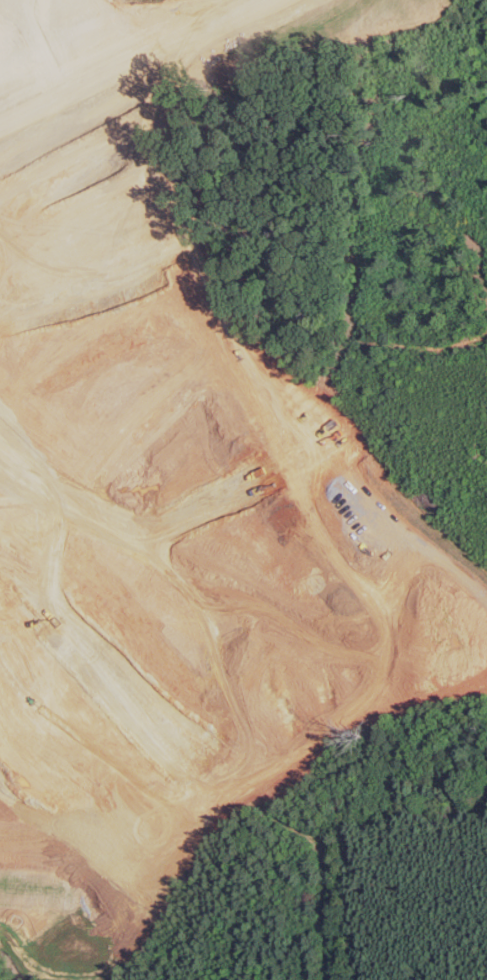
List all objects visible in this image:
road: (128, 63)
road: (106, 196)
road: (375, 259)
road: (243, 371)
road: (261, 591)
road: (81, 739)

